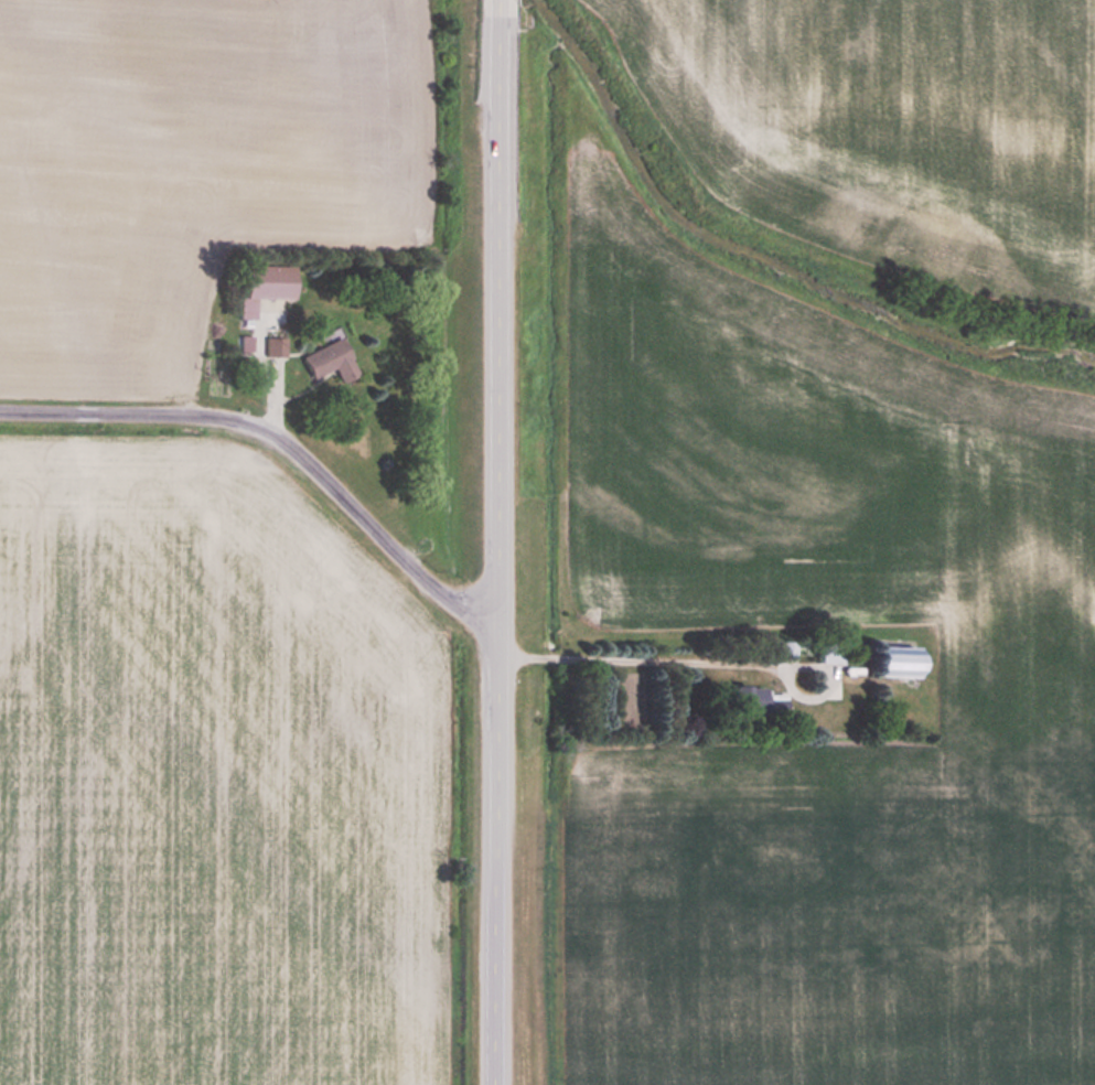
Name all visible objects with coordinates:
building: (267, 280)
building: (332, 359)
road: (258, 368)
road: (281, 441)
road: (497, 541)
road: (638, 658)
building: (901, 660)
building: (756, 698)

